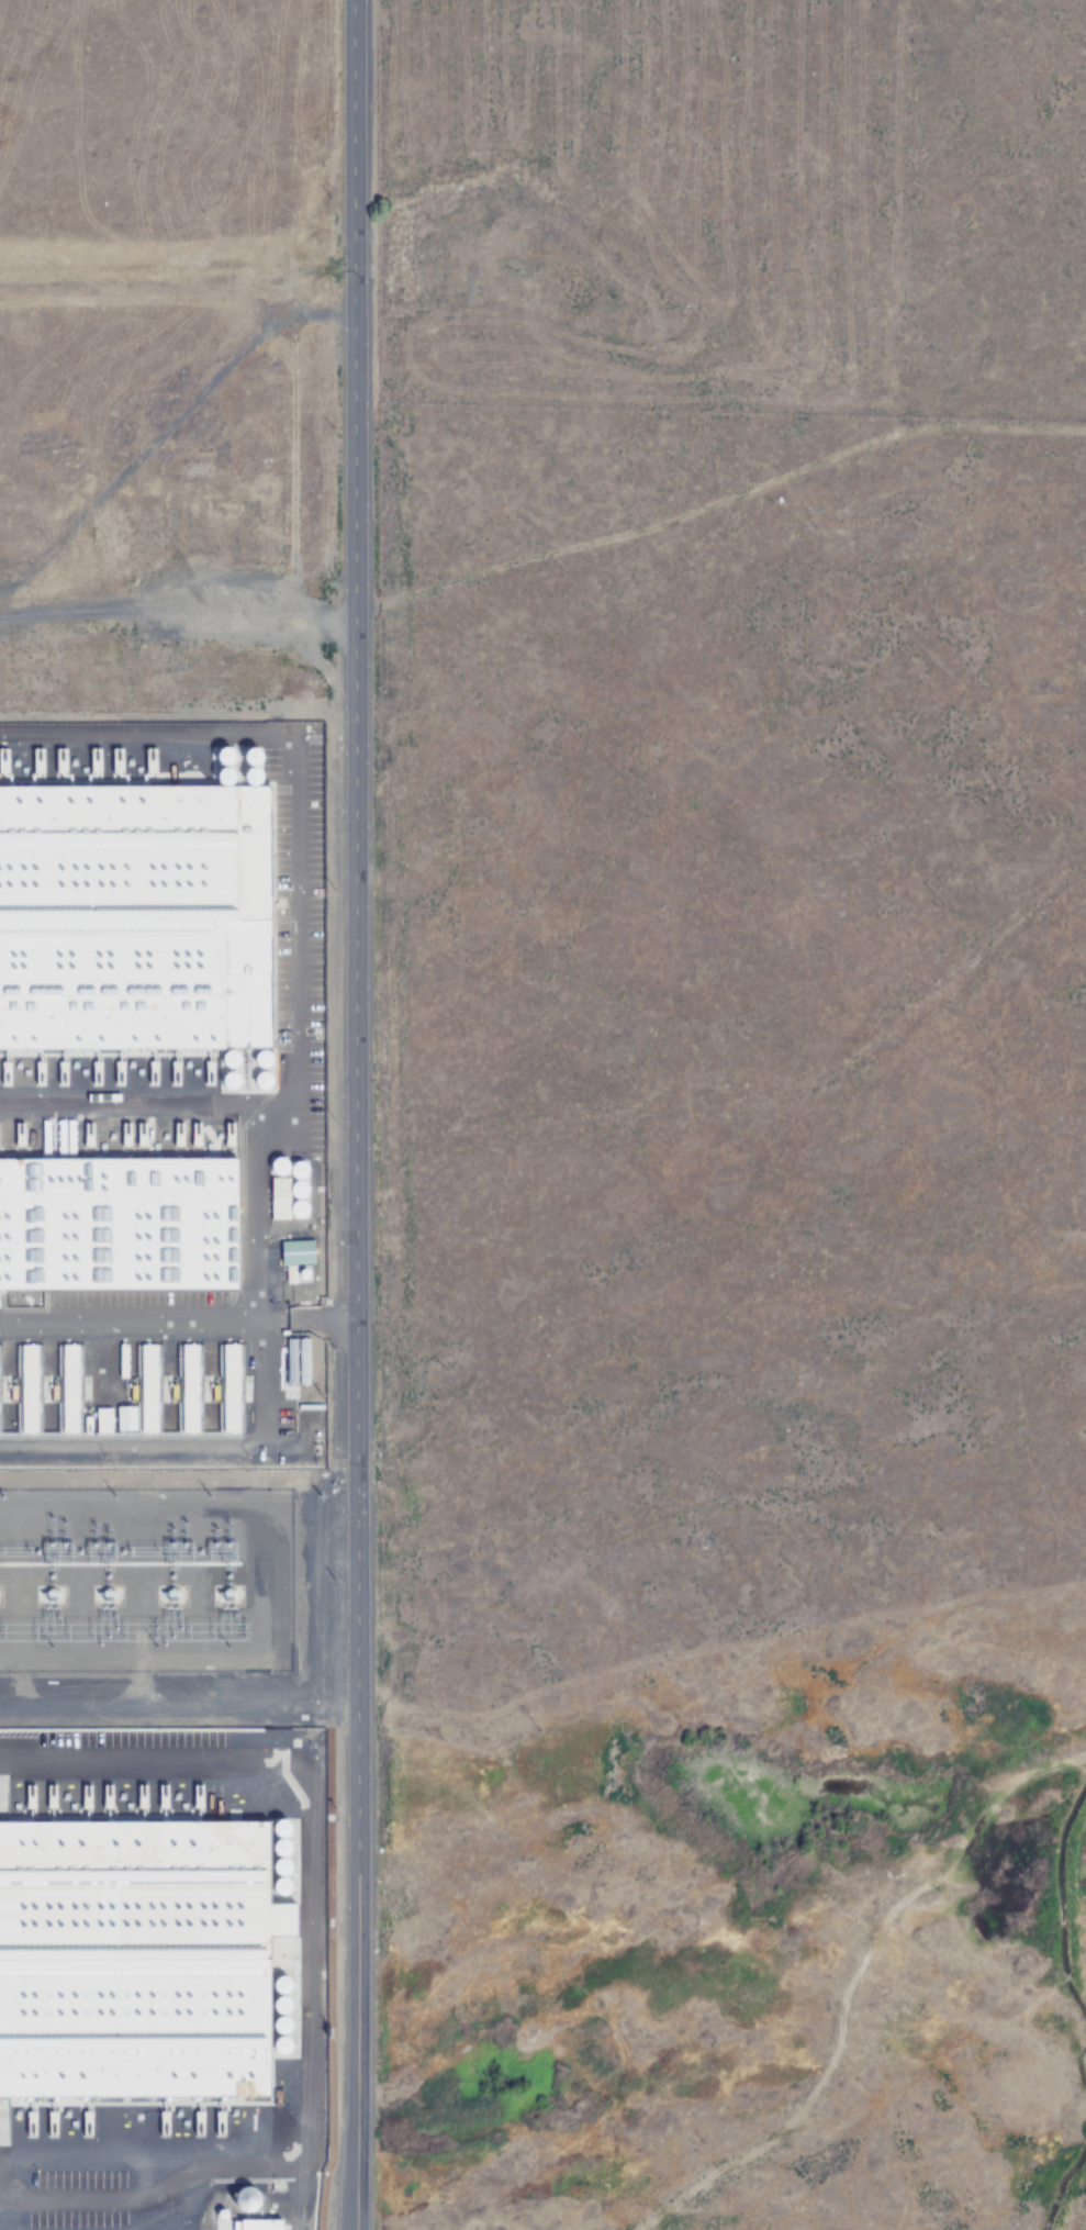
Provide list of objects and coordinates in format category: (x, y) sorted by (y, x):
building: (132, 911)
road: (356, 1114)
building: (122, 1217)
building: (32, 1383)
building: (74, 1385)
building: (153, 1385)
building: (193, 1385)
building: (235, 1385)
building: (0, 1386)
power substation: (146, 1575)
building: (134, 1960)

